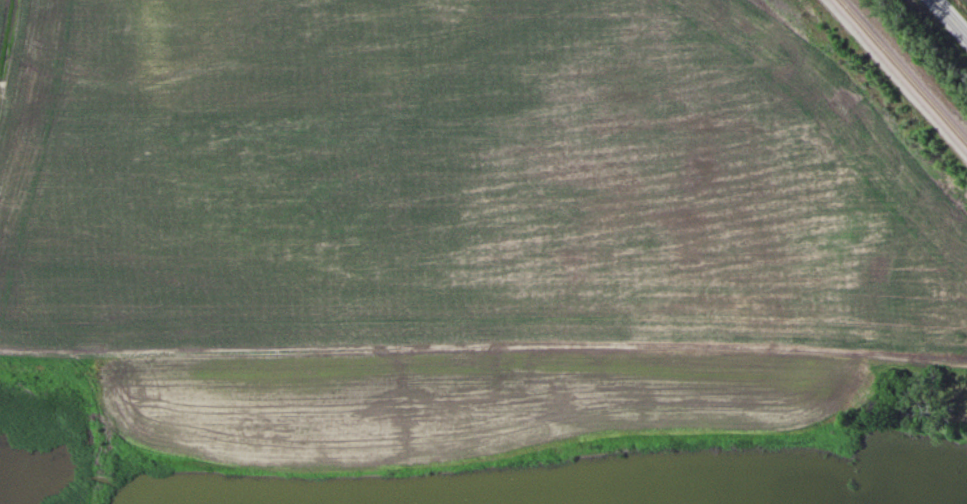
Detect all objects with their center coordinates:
road: (950, 18)
railway: (903, 71)

